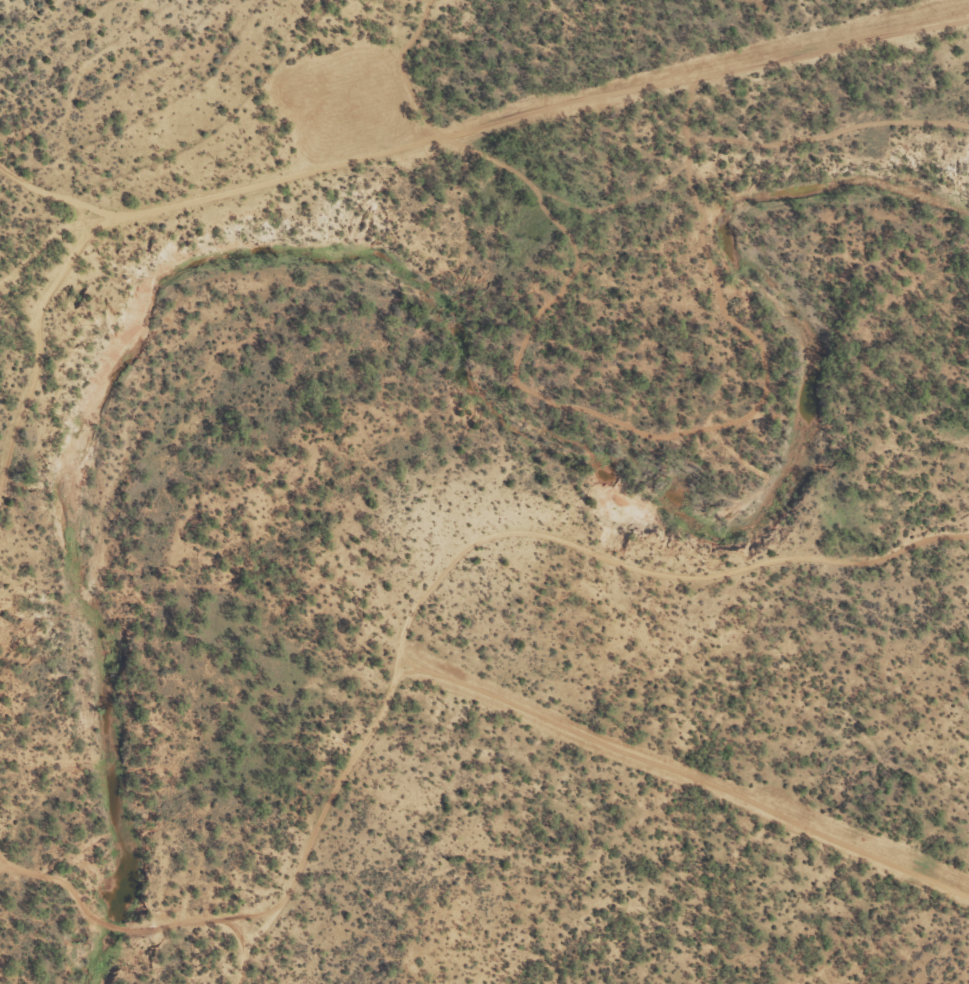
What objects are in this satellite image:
road: (175, 208)

